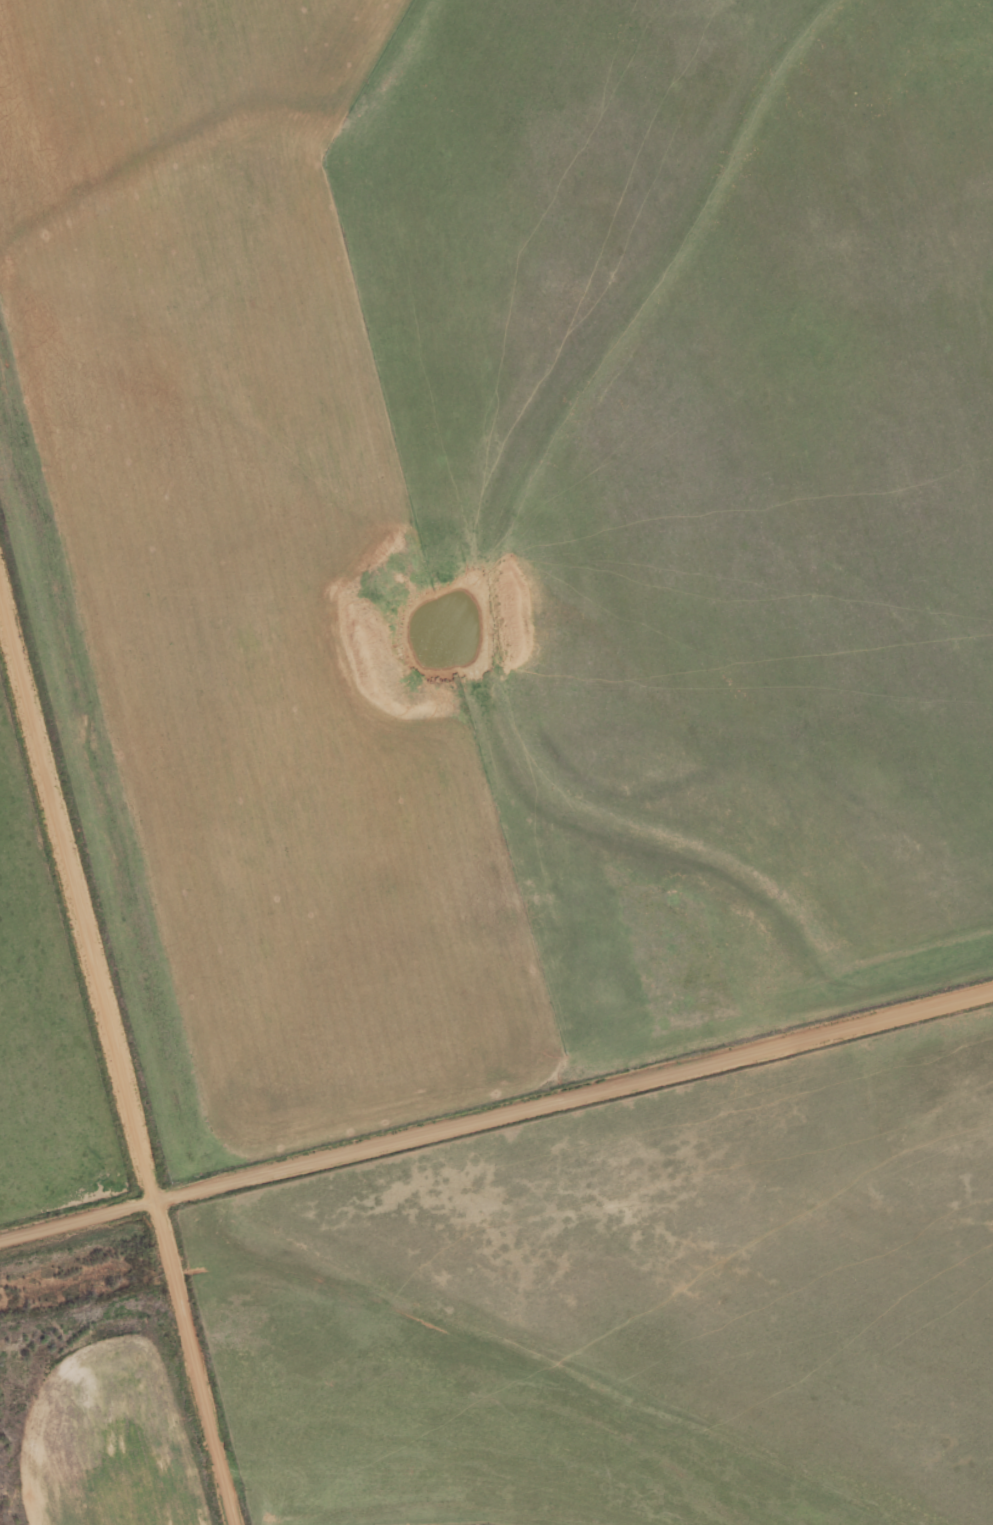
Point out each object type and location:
road: (116, 1058)
road: (496, 1113)

